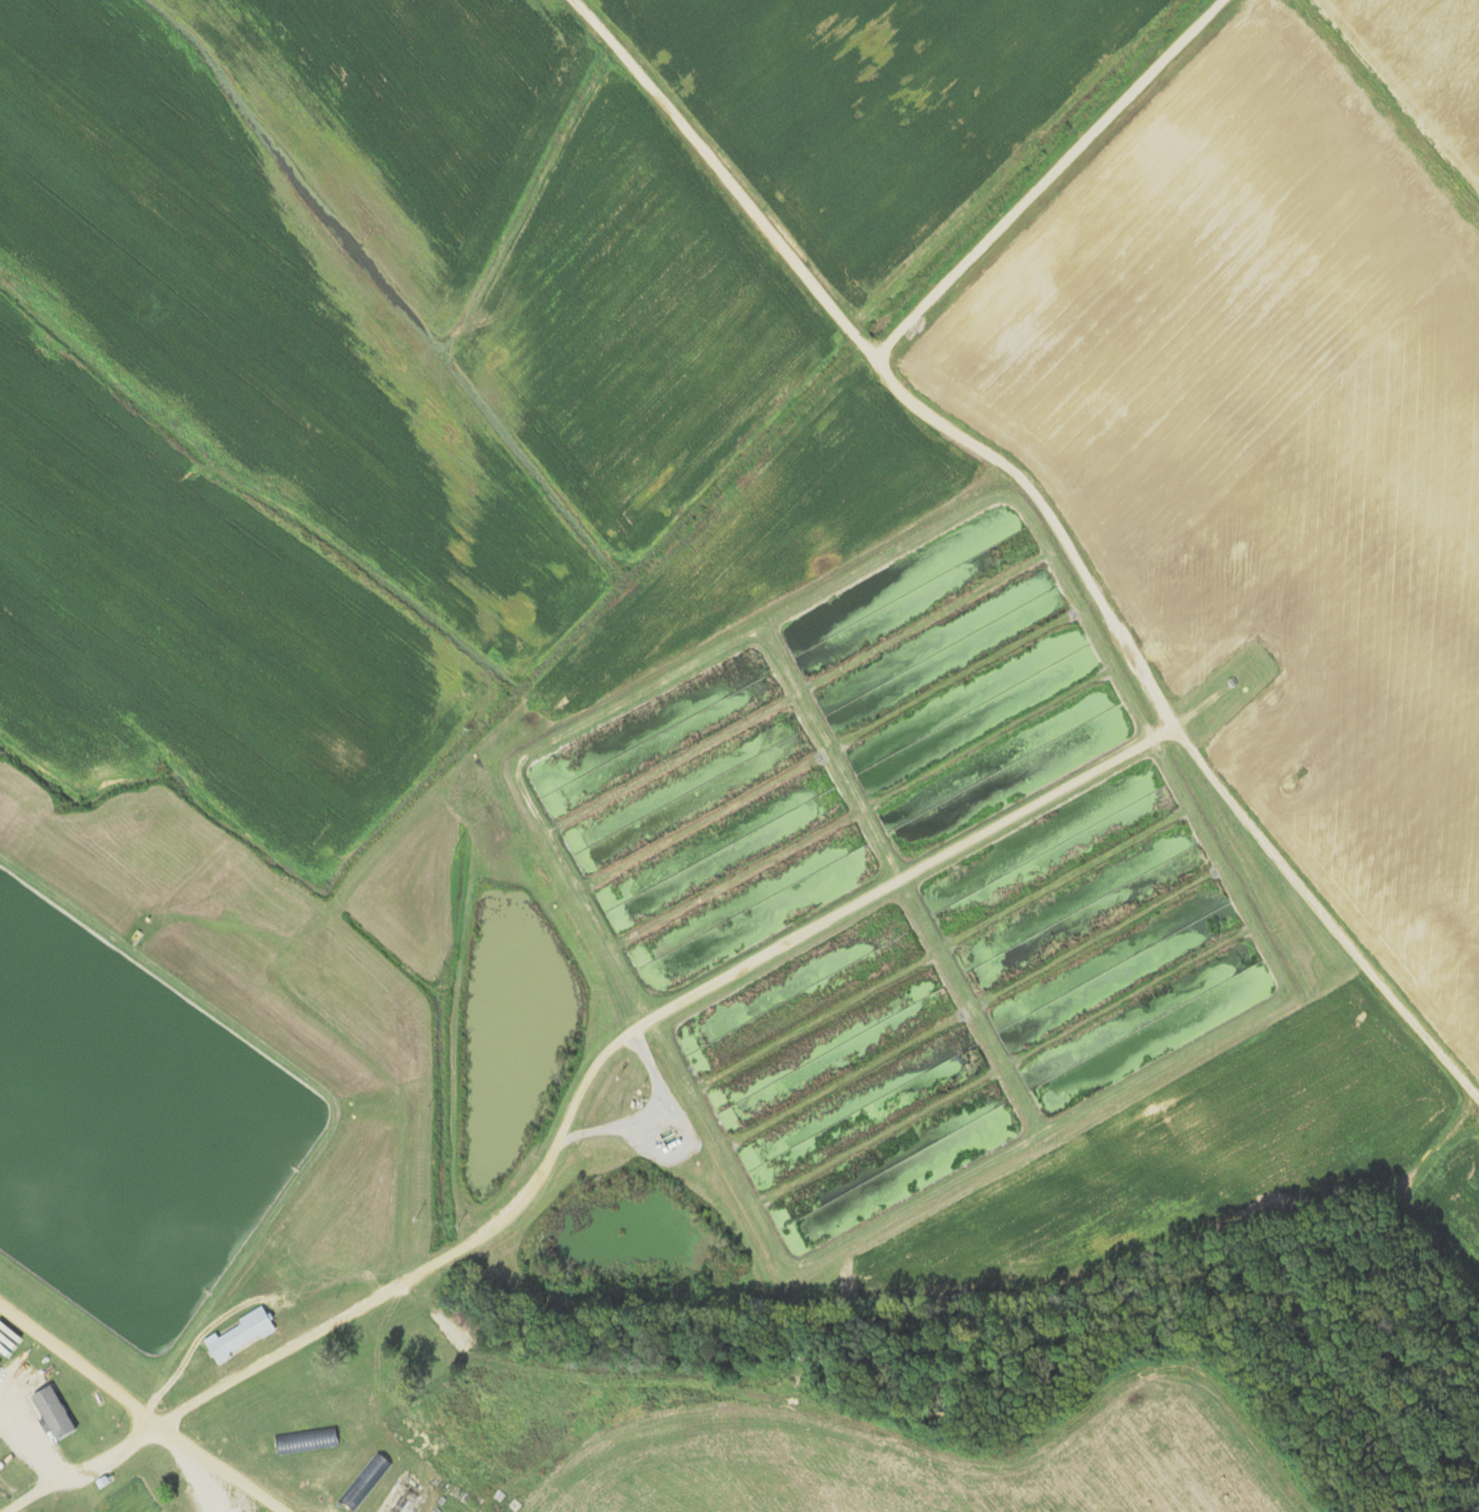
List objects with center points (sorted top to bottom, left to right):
road: (883, 362)
wastewater plant: (948, 680)
wastewater plant: (695, 825)
wastewater plant: (1099, 949)
road: (733, 975)
wastewater plant: (843, 1093)
building: (238, 1335)
building: (52, 1412)
road: (143, 1424)
building: (306, 1440)
road: (27, 1442)
building: (365, 1481)

